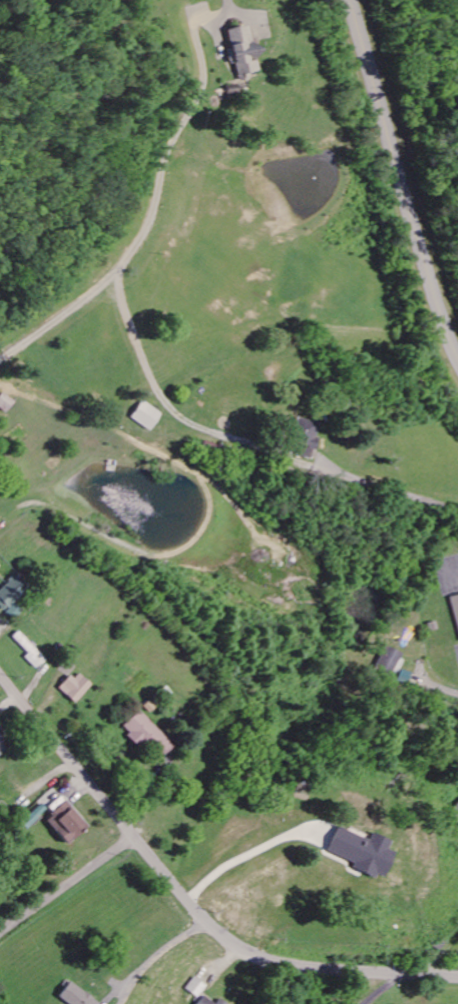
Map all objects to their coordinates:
building: (242, 50)
road: (402, 176)
road: (151, 204)
building: (3, 403)
building: (144, 416)
building: (303, 439)
road: (232, 442)
road: (209, 511)
road: (455, 571)
parking lot: (445, 576)
building: (11, 594)
building: (455, 608)
building: (30, 652)
parking lot: (453, 657)
building: (390, 661)
road: (437, 684)
building: (76, 687)
building: (147, 736)
building: (2, 746)
building: (65, 823)
building: (360, 851)
road: (67, 886)
road: (185, 902)
building: (197, 988)
road: (381, 989)
building: (76, 996)
building: (206, 1001)
building: (221, 1002)

